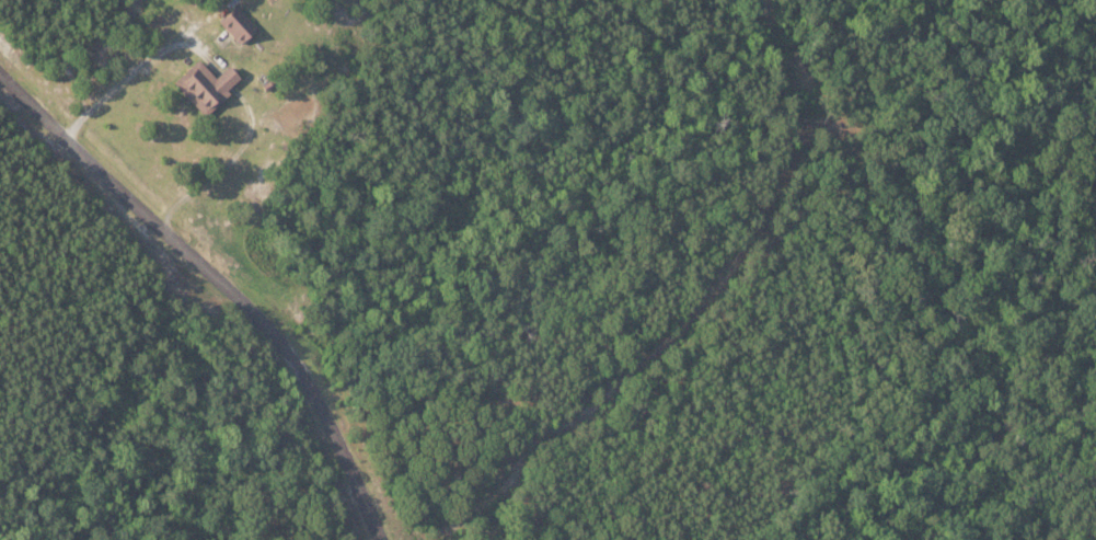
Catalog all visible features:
building: (236, 23)
building: (205, 85)
road: (113, 95)
road: (224, 280)

